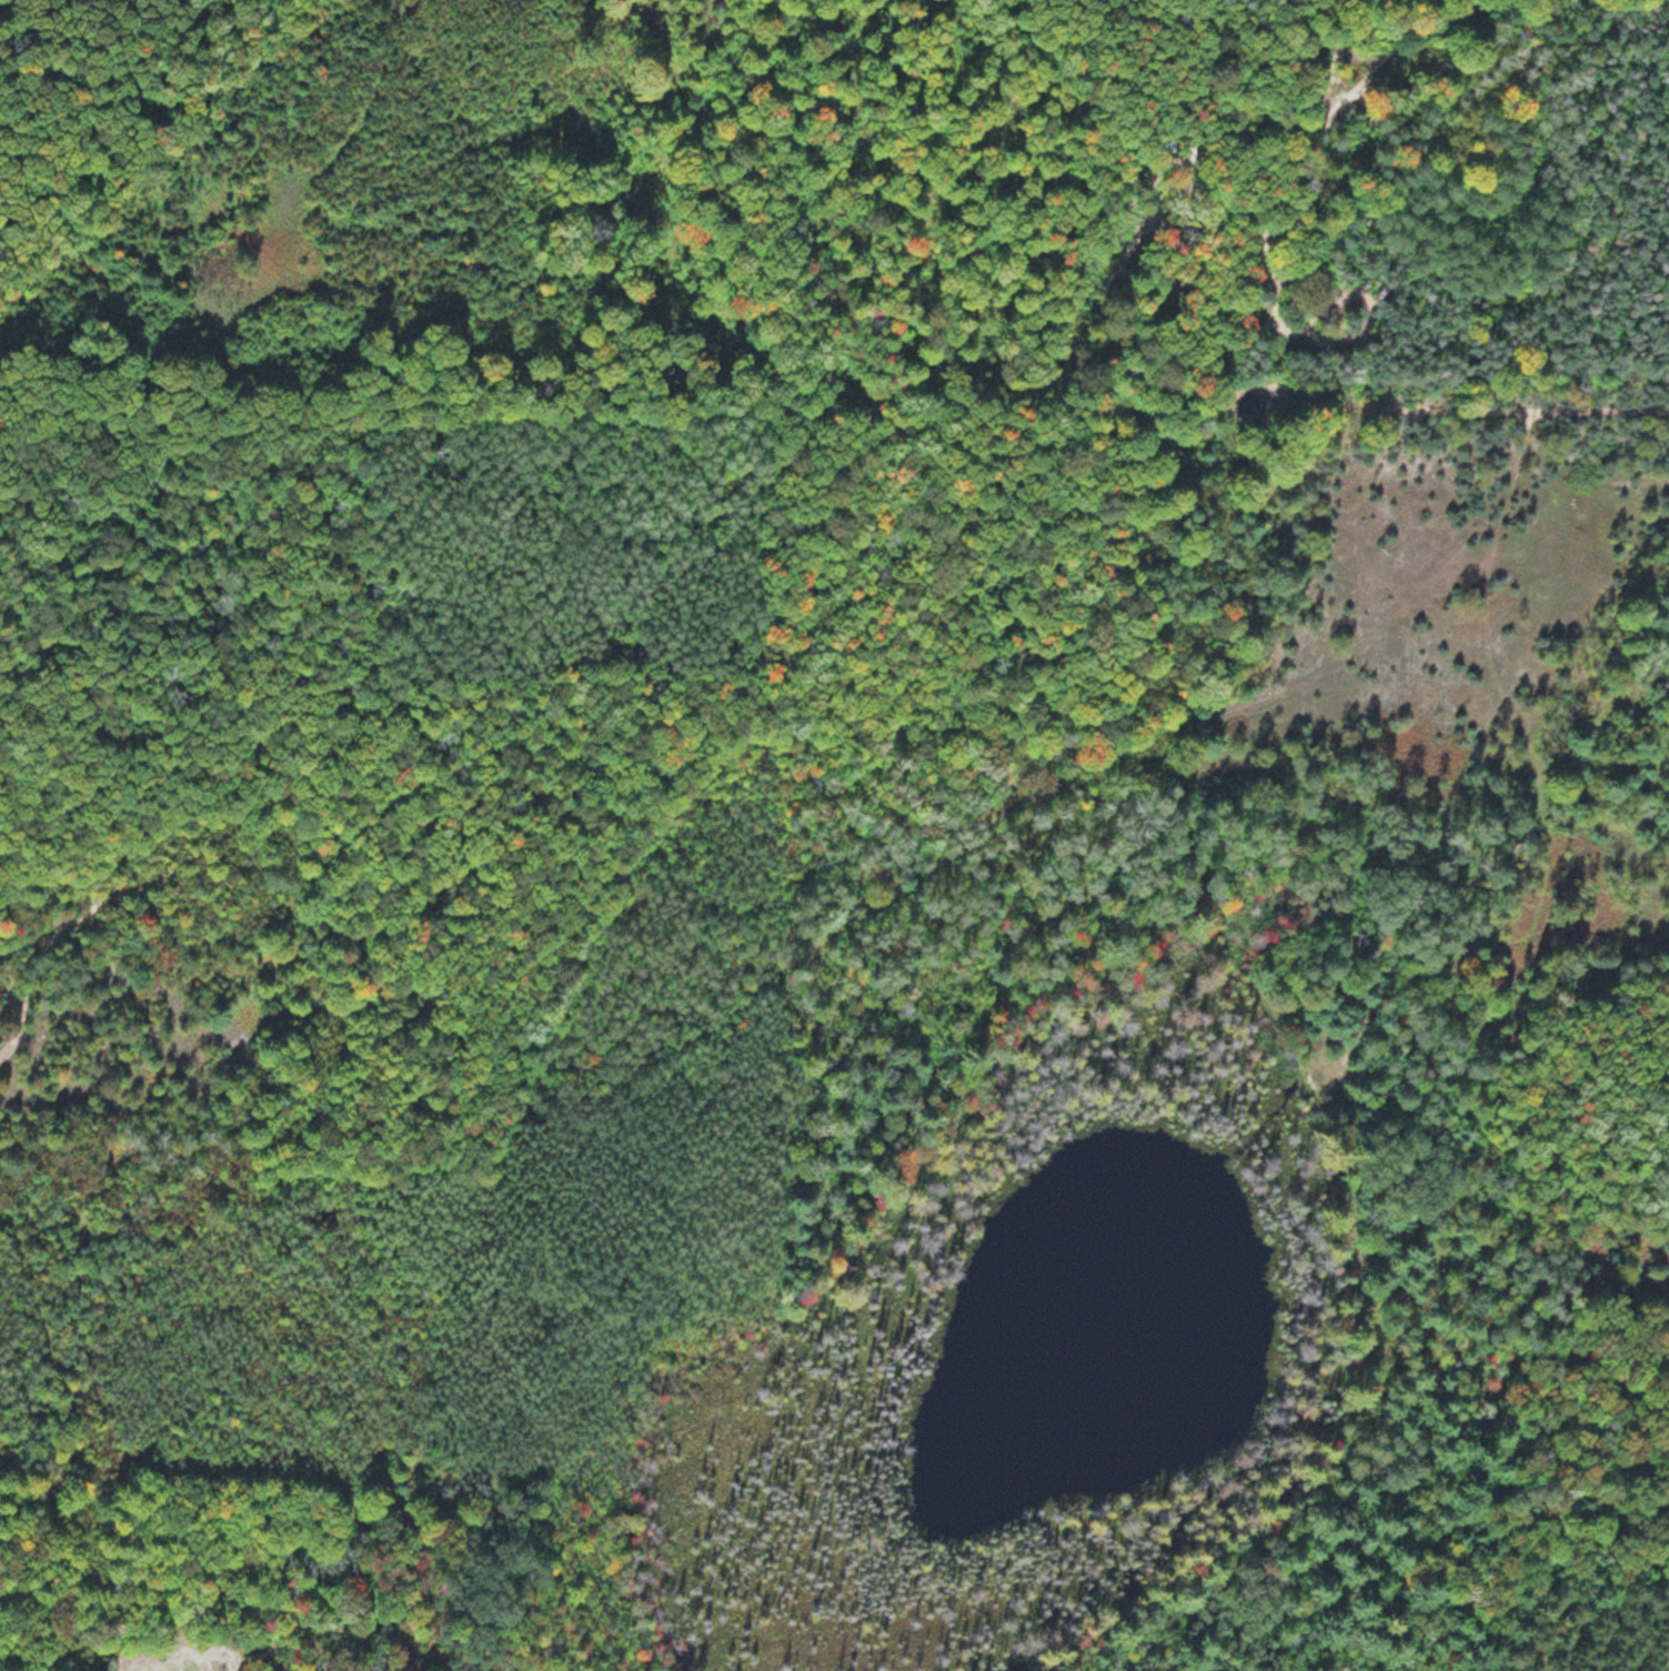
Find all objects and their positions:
road: (1263, 409)
road: (364, 648)

